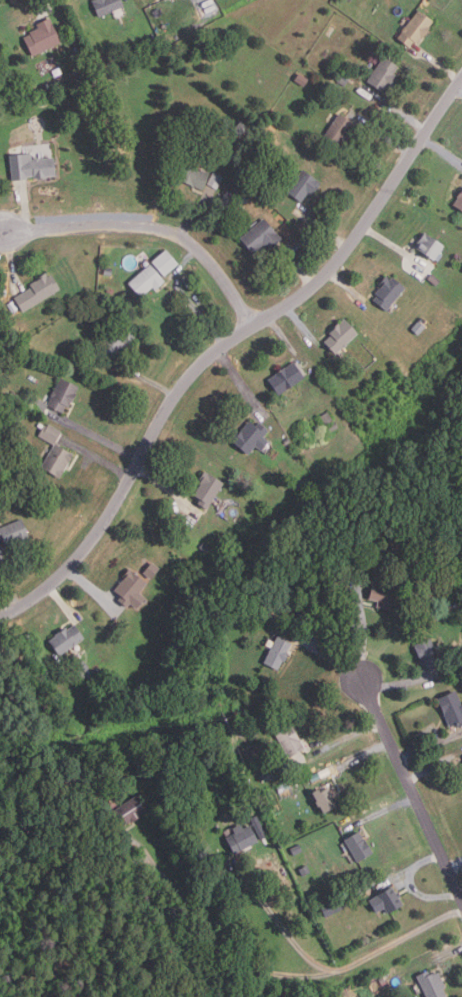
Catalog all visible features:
road: (36, 6)
building: (108, 6)
building: (416, 29)
building: (42, 37)
road: (438, 65)
building: (384, 74)
building: (344, 79)
building: (302, 81)
road: (459, 88)
road: (398, 112)
building: (241, 129)
building: (339, 130)
road: (385, 135)
building: (278, 141)
road: (442, 151)
building: (31, 168)
building: (193, 175)
building: (215, 180)
building: (303, 186)
building: (254, 199)
building: (459, 202)
road: (24, 209)
road: (198, 216)
road: (152, 226)
road: (324, 228)
road: (2, 231)
building: (262, 236)
building: (430, 246)
road: (396, 247)
road: (11, 260)
building: (164, 262)
road: (186, 262)
road: (297, 266)
building: (434, 279)
building: (145, 282)
building: (37, 292)
road: (352, 292)
building: (388, 293)
road: (304, 328)
road: (282, 335)
building: (341, 337)
building: (115, 343)
road: (225, 345)
building: (2, 362)
building: (287, 378)
road: (147, 379)
road: (240, 383)
building: (63, 396)
building: (38, 405)
building: (327, 419)
building: (333, 427)
building: (50, 433)
road: (95, 433)
building: (250, 438)
road: (97, 458)
building: (57, 461)
building: (208, 487)
building: (302, 487)
road: (168, 489)
building: (27, 492)
building: (14, 532)
building: (205, 547)
building: (377, 553)
building: (153, 570)
building: (132, 588)
road: (8, 589)
road: (92, 589)
building: (385, 595)
road: (63, 603)
building: (315, 615)
building: (300, 619)
road: (363, 632)
building: (66, 638)
building: (278, 652)
building: (428, 653)
road: (329, 656)
building: (83, 665)
building: (457, 672)
road: (403, 681)
building: (452, 707)
road: (346, 738)
building: (291, 741)
road: (430, 747)
building: (249, 750)
building: (461, 756)
road: (360, 757)
road: (431, 767)
building: (270, 774)
building: (315, 776)
building: (287, 786)
road: (411, 788)
building: (245, 798)
building: (325, 799)
building: (131, 809)
road: (385, 810)
building: (259, 826)
building: (242, 838)
building: (360, 845)
building: (296, 849)
road: (456, 867)
building: (305, 869)
road: (394, 875)
road: (411, 884)
building: (387, 900)
building: (333, 906)
road: (289, 936)
road: (400, 939)
road: (211, 944)
road: (443, 956)
building: (432, 984)

